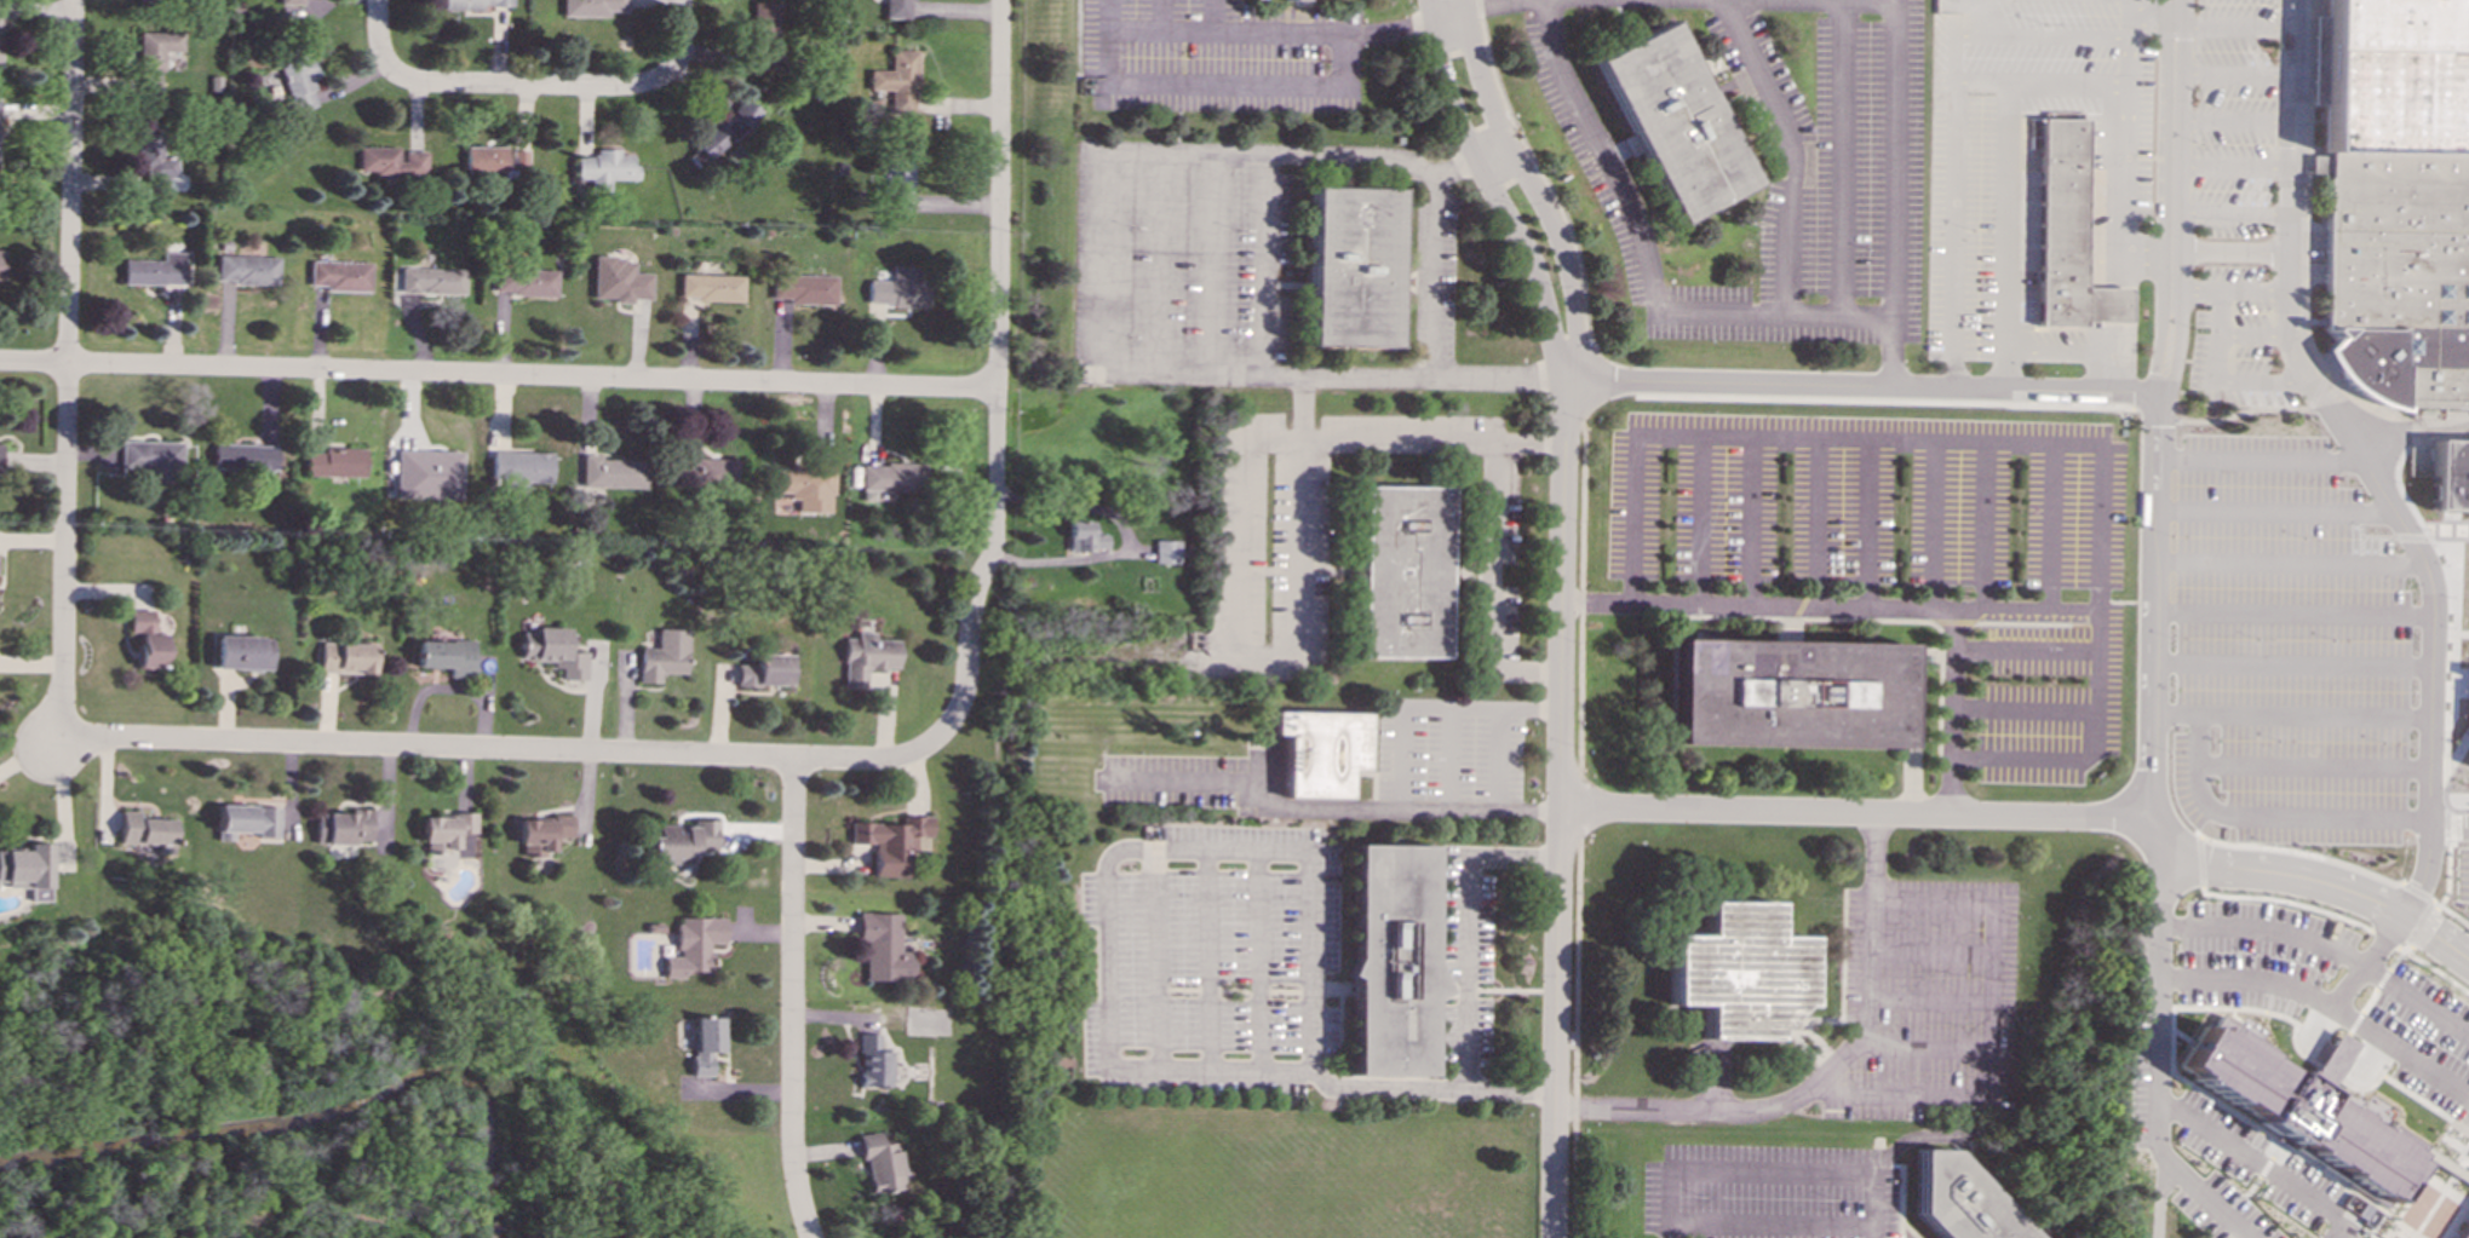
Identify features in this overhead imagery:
building: (150, 0)
building: (1290, 0)
building: (289, 1)
building: (475, 4)
road: (1894, 4)
building: (593, 7)
building: (897, 8)
road: (1160, 15)
road: (2151, 16)
building: (0, 19)
road: (1432, 24)
road: (2232, 28)
road: (1161, 30)
road: (1262, 33)
road: (377, 34)
building: (763, 34)
road: (2057, 36)
road: (678, 40)
road: (1951, 41)
parking lot: (1219, 56)
building: (153, 61)
road: (2230, 75)
building: (297, 77)
road: (1207, 81)
road: (2038, 84)
road: (522, 85)
building: (878, 97)
parking lot: (2230, 115)
road: (1177, 116)
building: (1671, 121)
road: (2230, 121)
road: (2125, 144)
road: (1791, 150)
building: (154, 157)
building: (489, 159)
road: (1836, 159)
road: (1468, 161)
building: (392, 162)
road: (2170, 166)
building: (603, 167)
road: (2229, 168)
road: (1538, 172)
building: (896, 177)
road: (69, 182)
road: (1529, 189)
road: (1488, 192)
road: (997, 194)
building: (2395, 198)
road: (2229, 213)
building: (2063, 234)
road: (1951, 235)
road: (2000, 236)
road: (2206, 252)
road: (1155, 261)
building: (0, 263)
road: (1212, 263)
road: (1261, 264)
building: (1349, 266)
building: (247, 269)
building: (155, 270)
building: (340, 275)
road: (1429, 278)
building: (619, 280)
building: (432, 281)
building: (526, 282)
building: (711, 287)
building: (804, 288)
building: (898, 288)
road: (2194, 288)
road: (2252, 289)
road: (1772, 313)
road: (1097, 328)
road: (2220, 335)
road: (2251, 336)
parking lot: (2237, 340)
road: (2071, 352)
road: (1887, 353)
road: (2165, 362)
road: (34, 363)
road: (532, 376)
road: (2261, 382)
road: (1585, 384)
road: (1836, 386)
road: (2132, 390)
road: (1366, 441)
road: (1940, 441)
building: (243, 457)
building: (151, 459)
road: (2257, 459)
road: (2359, 460)
building: (337, 461)
building: (0, 462)
building: (521, 468)
building: (613, 472)
building: (707, 473)
building: (429, 474)
building: (2448, 474)
building: (890, 478)
building: (804, 485)
road: (2273, 508)
road: (1699, 522)
road: (1750, 523)
road: (1814, 524)
road: (1866, 525)
road: (1931, 526)
road: (1980, 528)
road: (2049, 530)
road: (1125, 535)
building: (1084, 536)
road: (65, 548)
building: (1166, 551)
road: (1498, 554)
road: (2290, 560)
building: (1403, 571)
road: (984, 572)
road: (2154, 580)
road: (1562, 594)
road: (1581, 597)
road: (2126, 601)
road: (2293, 610)
road: (1855, 611)
building: (2467, 630)
building: (148, 639)
parking lot: (2285, 649)
building: (555, 651)
building: (245, 652)
building: (666, 655)
building: (448, 656)
building: (349, 657)
building: (868, 657)
road: (1236, 658)
road: (2292, 663)
building: (769, 670)
building: (1786, 693)
road: (2069, 710)
road: (1455, 712)
road: (2291, 715)
road: (1401, 733)
road: (58, 739)
road: (498, 749)
building: (1319, 750)
road: (1499, 759)
road: (2040, 760)
road: (2314, 766)
road: (2154, 801)
road: (1325, 805)
road: (1579, 806)
road: (1860, 811)
road: (2272, 817)
building: (247, 820)
road: (2450, 827)
road: (2453, 827)
building: (147, 830)
building: (345, 830)
building: (453, 834)
building: (546, 834)
building: (687, 841)
building: (896, 843)
road: (1192, 850)
road: (2159, 854)
road: (2199, 860)
road: (2339, 863)
building: (28, 870)
road: (2450, 873)
parking lot: (2463, 874)
road: (2318, 880)
road: (2286, 902)
road: (2424, 928)
road: (2389, 942)
building: (695, 945)
road: (2325, 945)
building: (885, 946)
building: (1389, 958)
building: (1738, 971)
road: (2438, 971)
road: (1466, 972)
parking lot: (2329, 991)
road: (2307, 996)
road: (793, 1000)
road: (1867, 1008)
road: (1558, 1023)
road: (1575, 1040)
building: (706, 1043)
road: (2404, 1054)
building: (873, 1061)
road: (2155, 1073)
road: (1968, 1098)
park: (325, 1106)
building: (2297, 1109)
parking lot: (2221, 1153)
building: (882, 1161)
road: (2258, 1163)
building: (2444, 1164)
road: (1768, 1177)
building: (1959, 1200)
road: (1767, 1220)
building: (2464, 1232)

